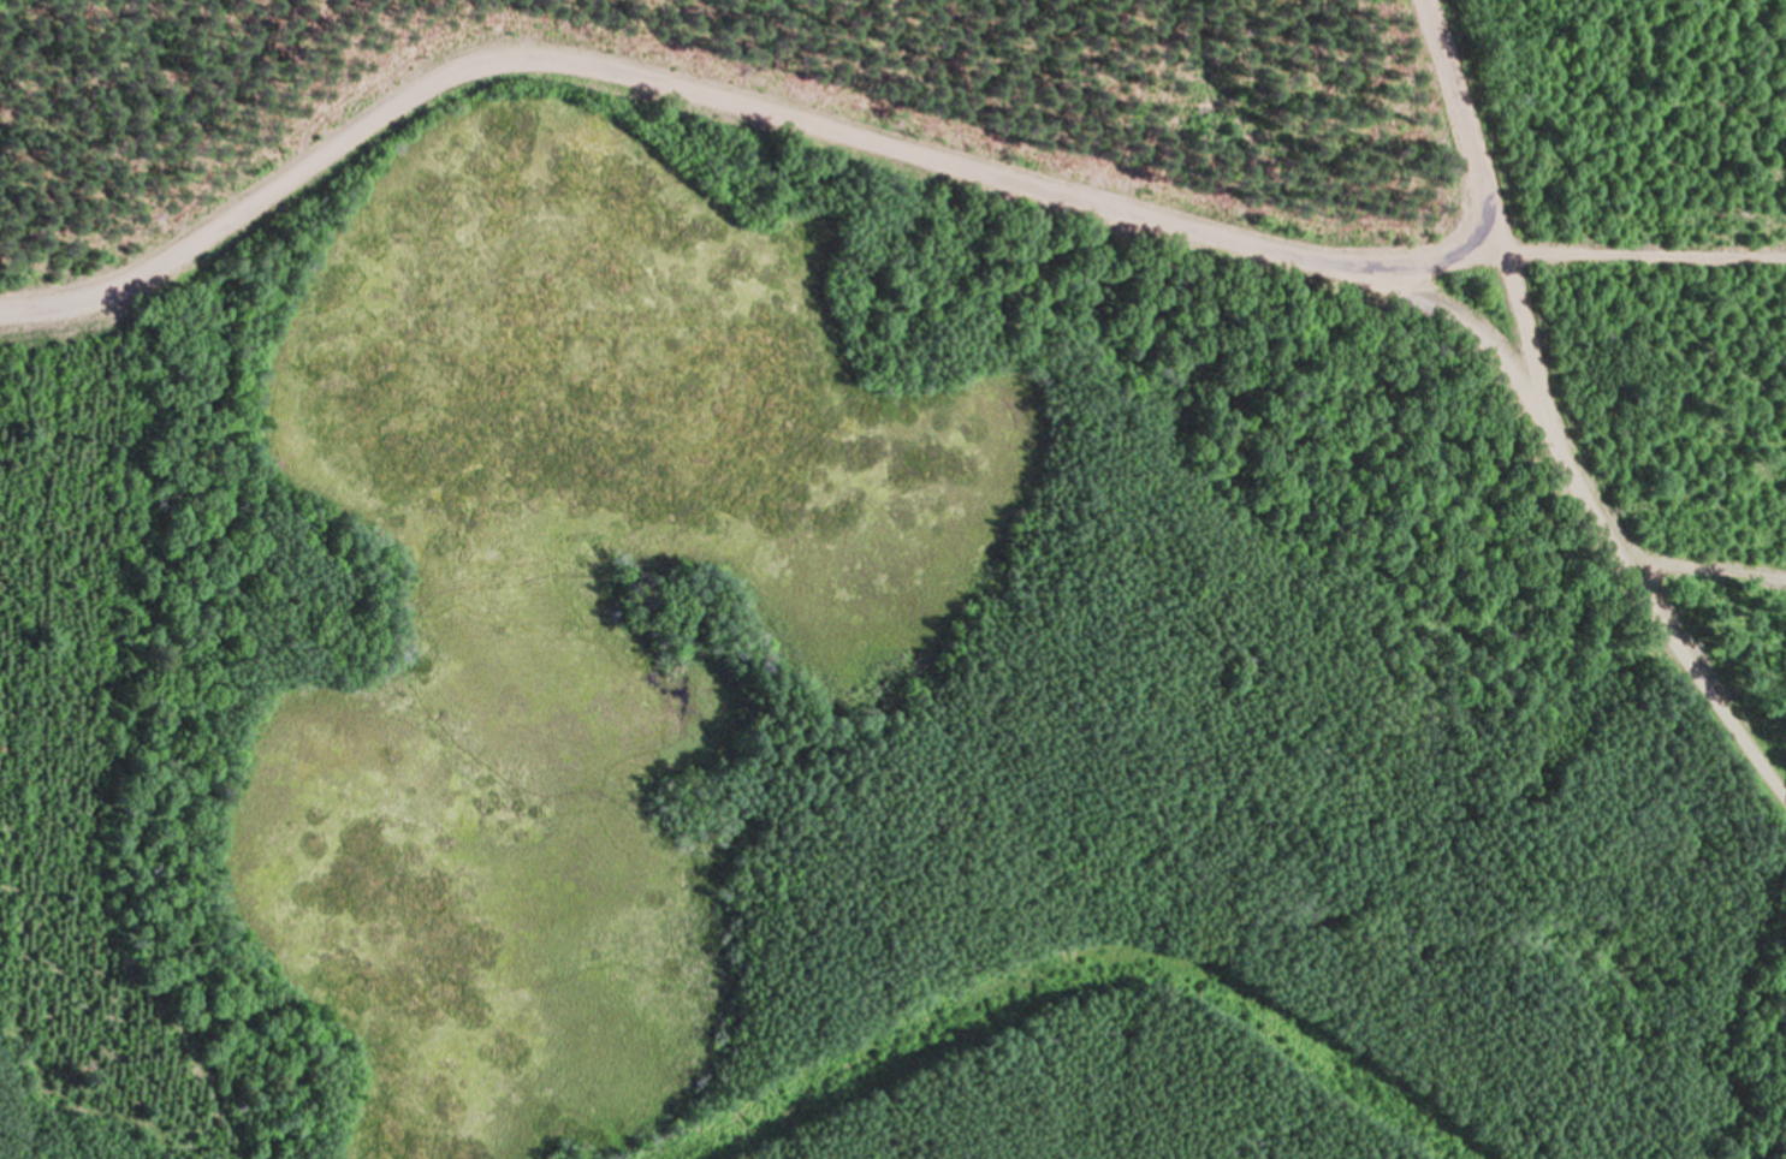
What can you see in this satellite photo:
road: (779, 119)
road: (1488, 215)
road: (1572, 251)
road: (1697, 564)
road: (1656, 620)

